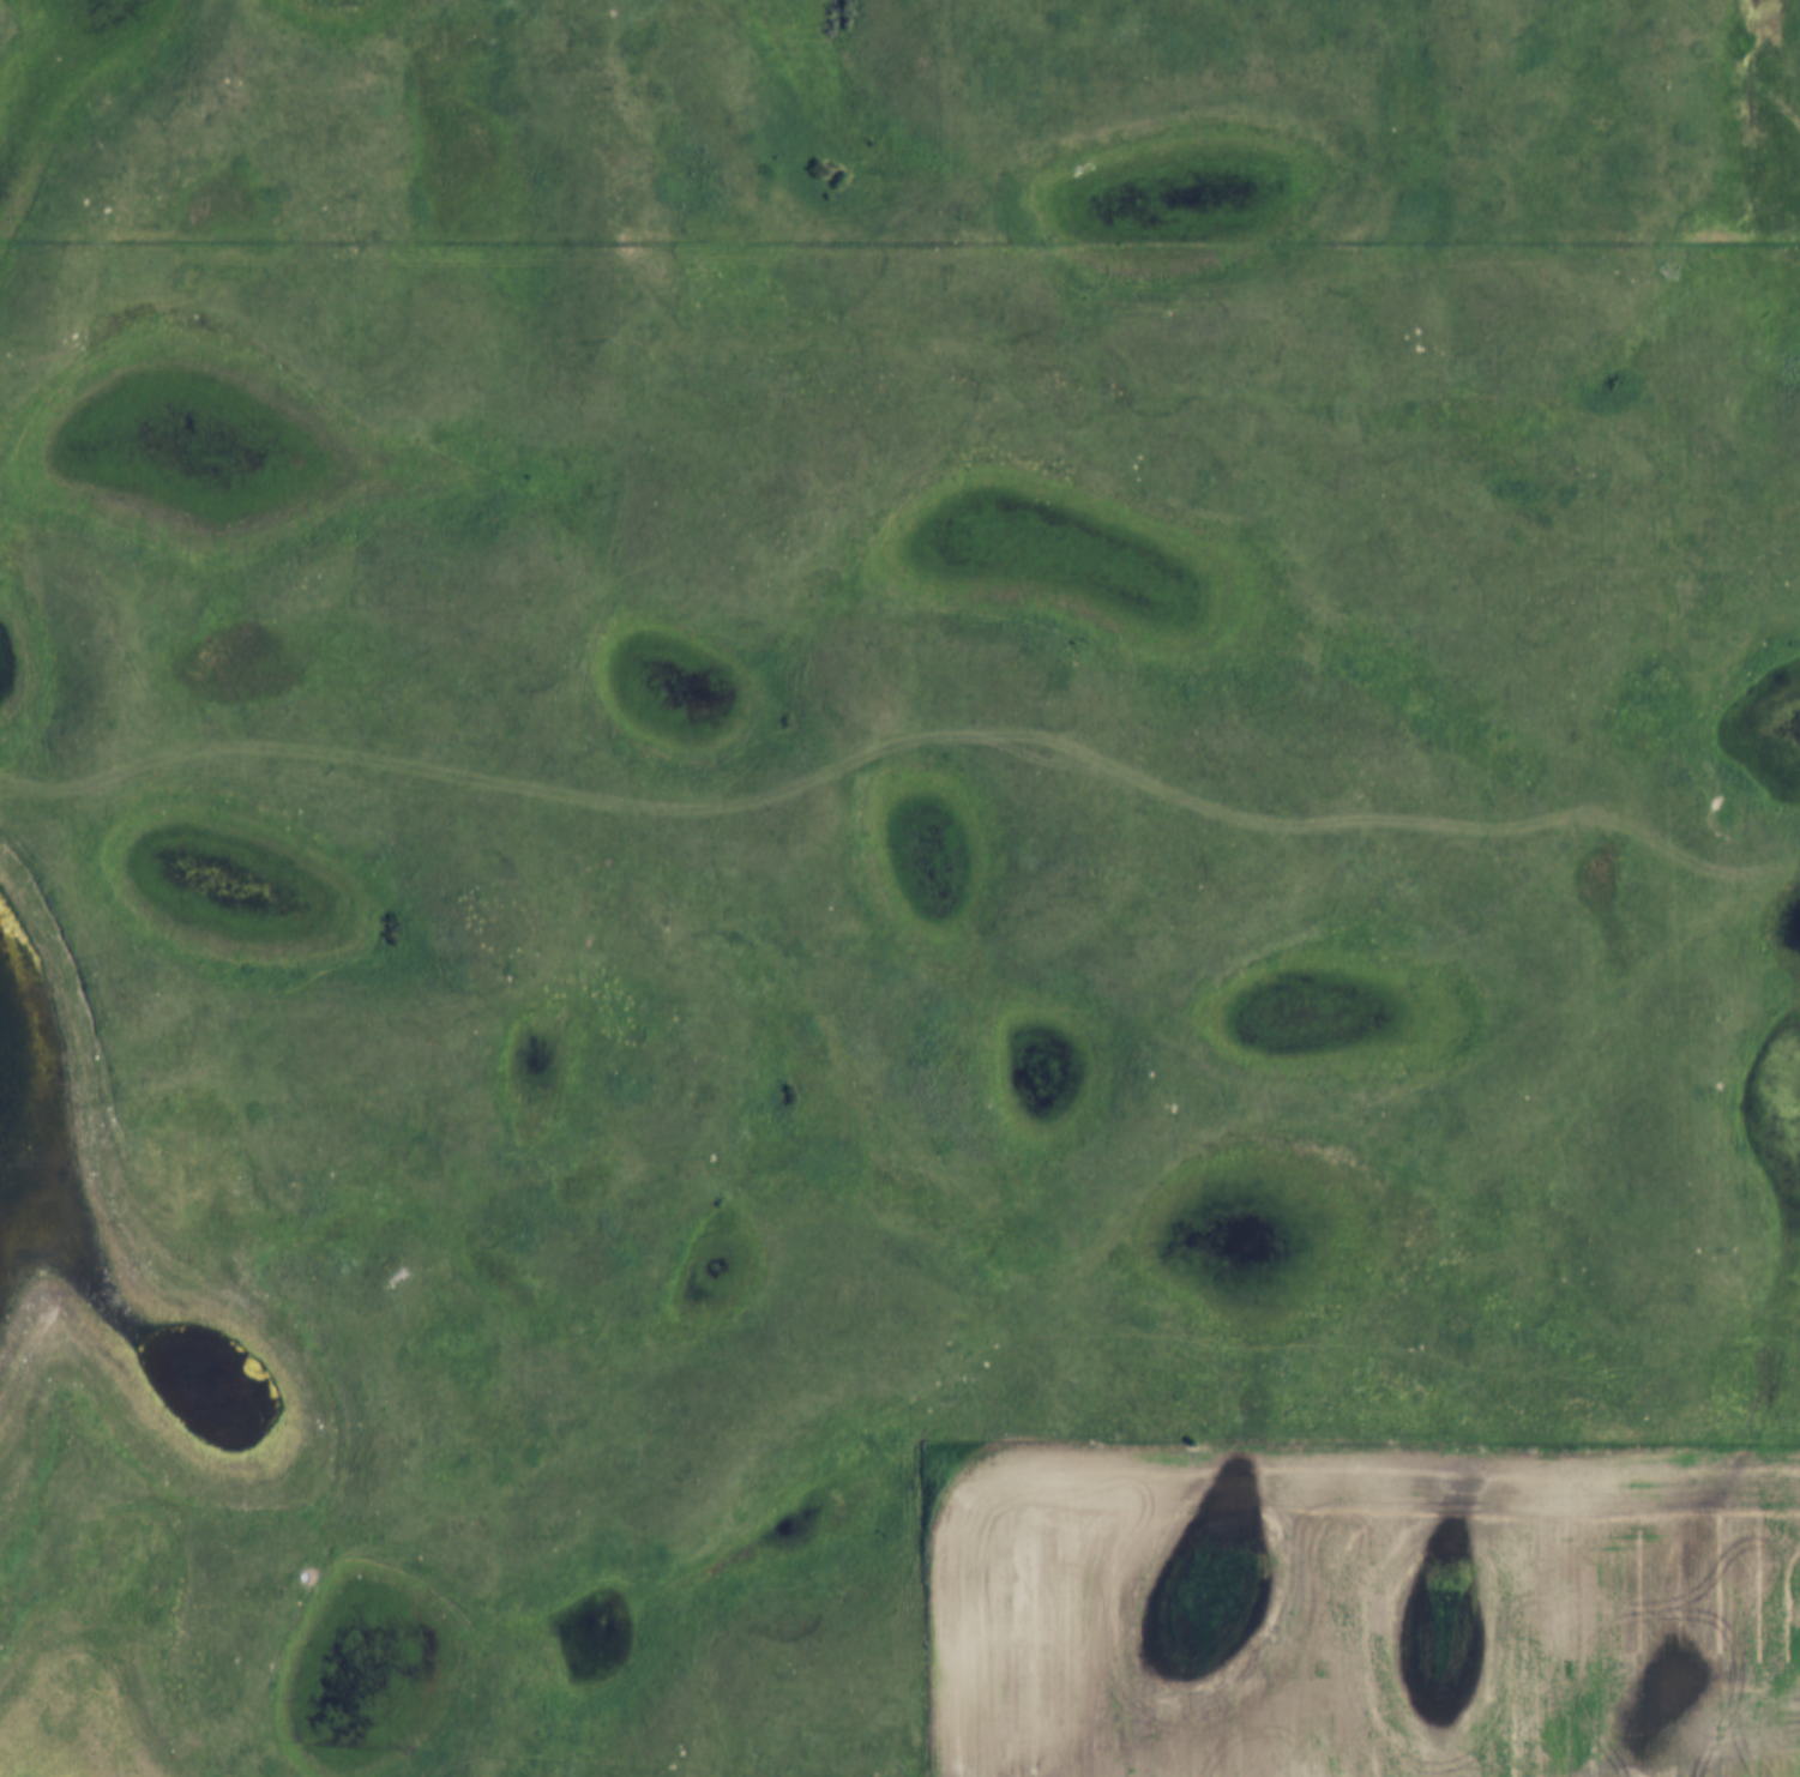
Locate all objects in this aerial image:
road: (853, 763)

